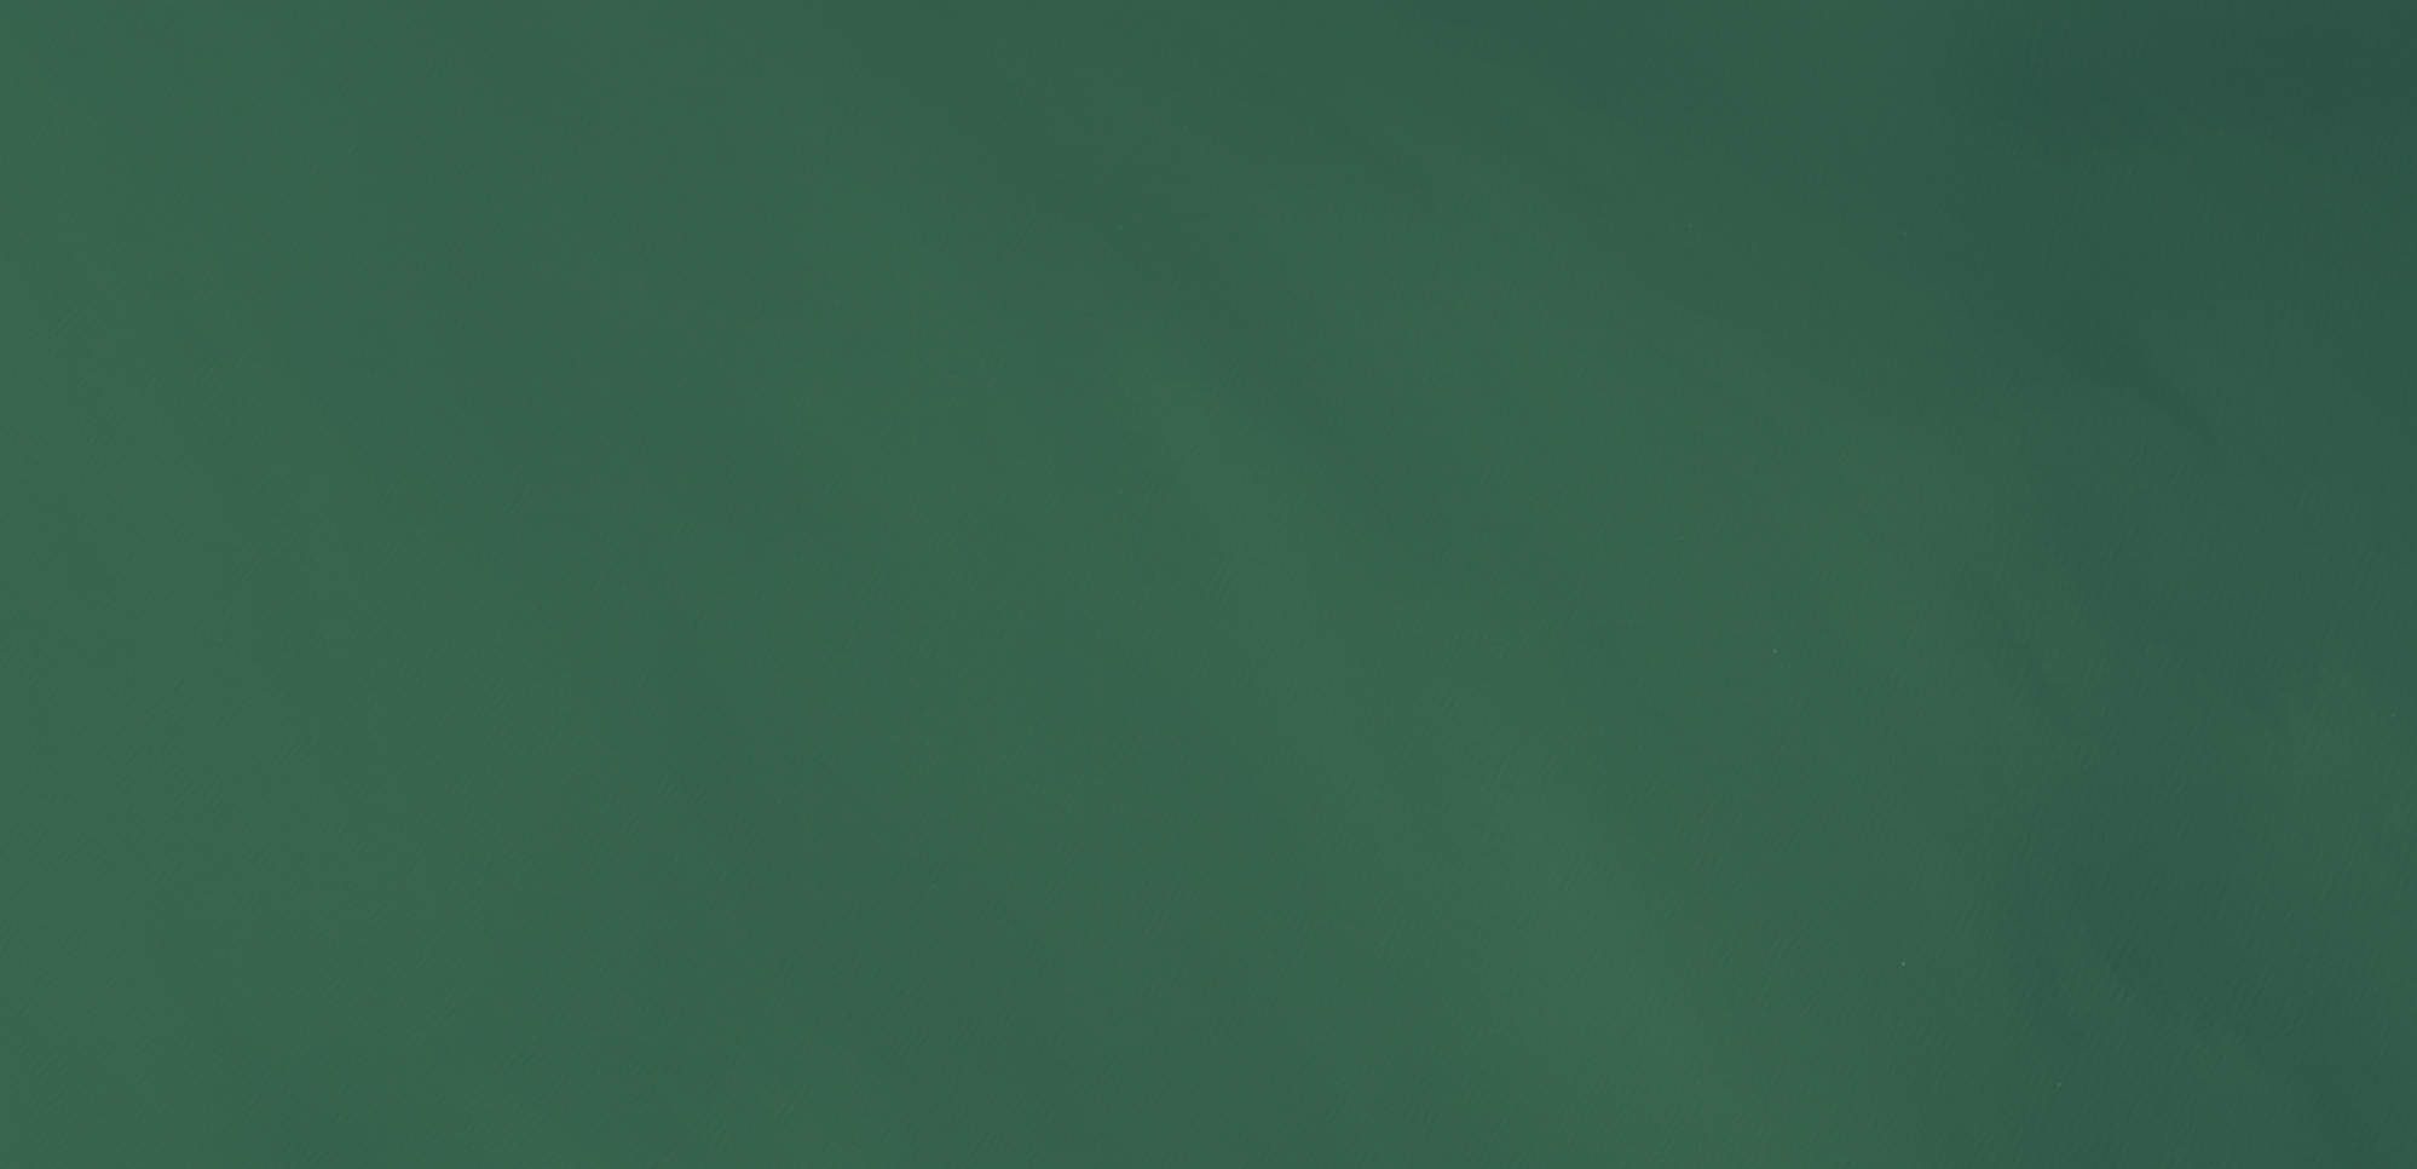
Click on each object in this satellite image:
river: (214, 1023)

